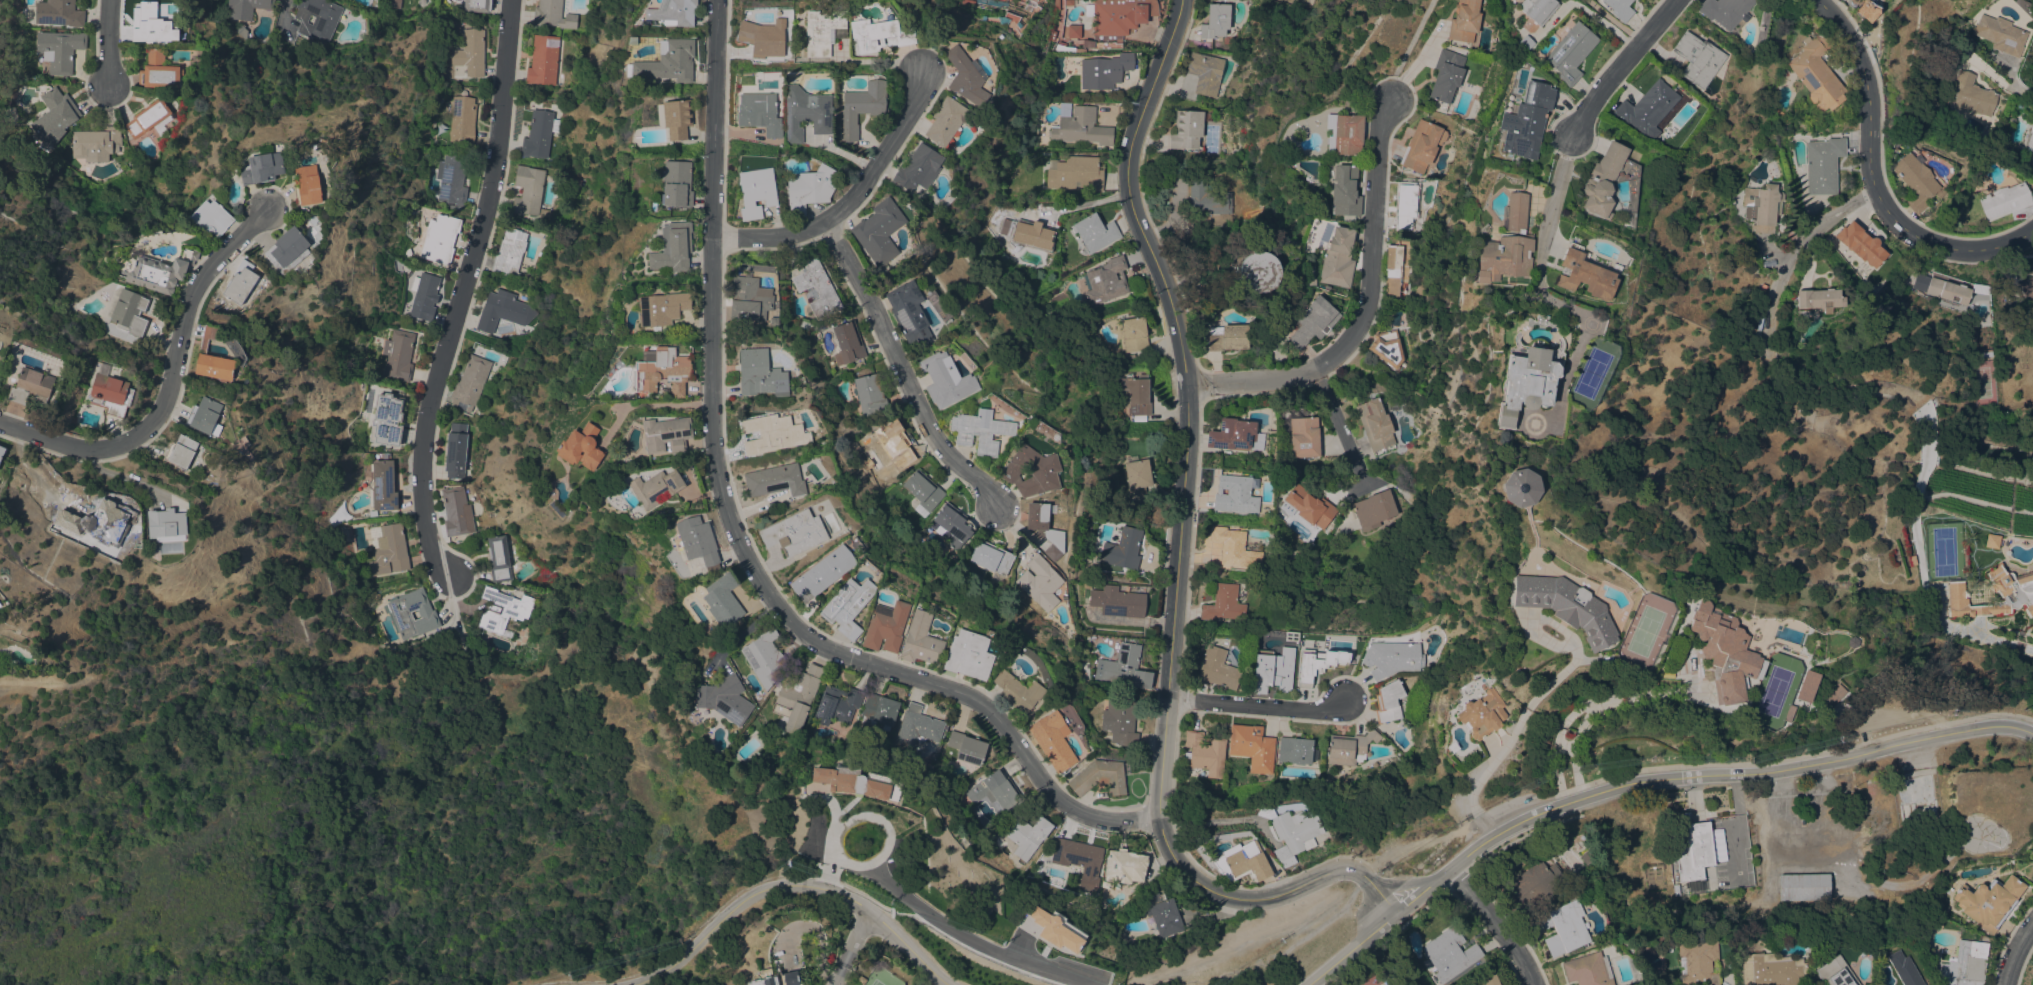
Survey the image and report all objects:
building: (985, 2)
building: (394, 4)
building: (477, 5)
building: (247, 8)
building: (1619, 8)
building: (1536, 9)
building: (1724, 11)
building: (673, 12)
building: (58, 13)
building: (552, 14)
road: (282, 15)
building: (317, 18)
building: (1057, 18)
building: (1117, 19)
building: (1215, 20)
building: (1465, 20)
road: (1613, 22)
building: (151, 24)
building: (239, 29)
building: (822, 30)
building: (1073, 31)
building: (2000, 34)
building: (878, 35)
building: (763, 37)
road: (107, 42)
building: (1065, 47)
building: (59, 49)
road: (1406, 49)
building: (1569, 52)
building: (469, 53)
building: (1696, 59)
building: (543, 60)
building: (667, 61)
road: (1415, 64)
road: (1621, 68)
building: (1814, 68)
building: (158, 71)
building: (1104, 71)
building: (1446, 75)
building: (966, 76)
building: (1200, 76)
road: (1996, 76)
building: (1972, 94)
building: (862, 106)
building: (1646, 108)
building: (806, 112)
building: (759, 113)
building: (1777, 113)
building: (53, 117)
building: (147, 117)
building: (675, 118)
building: (462, 119)
building: (947, 121)
building: (1527, 121)
building: (1080, 127)
building: (1186, 129)
building: (537, 134)
building: (1345, 135)
building: (2030, 137)
building: (96, 143)
building: (1422, 145)
building: (1823, 165)
building: (262, 168)
building: (918, 168)
building: (1075, 173)
building: (1602, 179)
building: (451, 181)
road: (1870, 181)
building: (1916, 181)
building: (677, 183)
building: (307, 185)
building: (810, 187)
building: (527, 189)
building: (1345, 190)
building: (756, 191)
road: (1554, 193)
building: (1207, 199)
road: (850, 200)
building: (2005, 201)
building: (1405, 205)
building: (1762, 206)
road: (1062, 208)
building: (211, 216)
building: (879, 231)
building: (1095, 232)
building: (1028, 236)
building: (439, 238)
building: (1860, 243)
building: (1507, 245)
building: (672, 249)
building: (287, 250)
building: (509, 252)
building: (406, 253)
road: (1795, 254)
building: (1337, 258)
building: (1392, 270)
building: (161, 271)
building: (1259, 271)
building: (1583, 273)
building: (1106, 280)
building: (240, 282)
building: (1311, 282)
building: (817, 288)
building: (2027, 288)
building: (1947, 290)
road: (462, 291)
building: (425, 297)
building: (1819, 299)
building: (749, 301)
road: (1358, 306)
building: (661, 309)
building: (501, 310)
building: (130, 312)
building: (909, 315)
building: (773, 322)
building: (1313, 322)
building: (1133, 334)
building: (1227, 337)
building: (847, 343)
building: (1387, 347)
building: (398, 354)
building: (212, 359)
road: (900, 367)
building: (662, 372)
building: (760, 373)
building: (1527, 379)
building: (945, 380)
road: (168, 381)
building: (469, 383)
building: (31, 387)
building: (110, 392)
building: (870, 394)
building: (1135, 394)
road: (644, 406)
building: (203, 414)
building: (72, 419)
building: (385, 419)
building: (1375, 424)
road: (1336, 426)
building: (981, 430)
building: (773, 433)
building: (1303, 433)
building: (664, 435)
building: (1234, 435)
building: (1924, 439)
building: (888, 443)
building: (581, 447)
building: (180, 450)
building: (455, 450)
building: (2, 451)
building: (614, 462)
building: (1033, 471)
road: (121, 476)
building: (1137, 476)
building: (776, 480)
building: (382, 484)
building: (656, 487)
building: (1519, 487)
building: (922, 492)
building: (1237, 493)
building: (1310, 506)
building: (1375, 509)
building: (372, 511)
building: (456, 511)
building: (99, 522)
building: (167, 524)
building: (954, 524)
building: (1045, 529)
building: (795, 532)
road: (735, 536)
building: (695, 540)
building: (1991, 541)
building: (1235, 547)
building: (387, 549)
building: (1123, 549)
road: (1177, 550)
building: (498, 558)
building: (992, 558)
building: (824, 571)
building: (1040, 582)
building: (2013, 591)
building: (722, 600)
building: (1118, 601)
building: (1224, 603)
building: (847, 604)
building: (1564, 606)
building: (502, 610)
building: (400, 615)
building: (886, 626)
road: (1978, 631)
building: (1291, 635)
building: (921, 639)
building: (1721, 651)
building: (969, 654)
building: (765, 657)
building: (1393, 658)
building: (1312, 664)
building: (1126, 665)
building: (1217, 669)
building: (1273, 669)
building: (1803, 686)
building: (1018, 691)
building: (797, 696)
building: (1834, 696)
building: (725, 698)
building: (1389, 701)
park: (1902, 701)
building: (837, 704)
road: (1257, 706)
building: (879, 711)
building: (1481, 713)
road: (1585, 713)
building: (1786, 713)
road: (1898, 718)
building: (1121, 720)
building: (918, 727)
road: (1508, 739)
building: (1052, 740)
building: (1252, 746)
building: (1452, 746)
building: (967, 747)
building: (1349, 748)
building: (1295, 750)
building: (1206, 752)
building: (1100, 776)
road: (1641, 781)
building: (849, 782)
building: (994, 789)
building: (1918, 807)
road: (1735, 821)
building: (1027, 835)
building: (1292, 836)
building: (1692, 845)
building: (1589, 858)
building: (1080, 860)
building: (1243, 862)
building: (1125, 866)
road: (793, 884)
road: (1400, 884)
building: (1533, 885)
building: (1696, 885)
building: (1804, 886)
building: (1676, 890)
building: (1989, 901)
building: (1163, 913)
road: (940, 922)
road: (1496, 923)
building: (1565, 928)
building: (1053, 930)
road: (849, 946)
building: (1450, 953)
road: (2016, 953)
building: (1697, 962)
building: (1965, 964)
building: (1588, 969)
building: (1770, 969)
building: (1903, 969)
building: (1836, 972)
building: (775, 978)
building: (1489, 978)
building: (860, 980)
building: (1394, 984)

